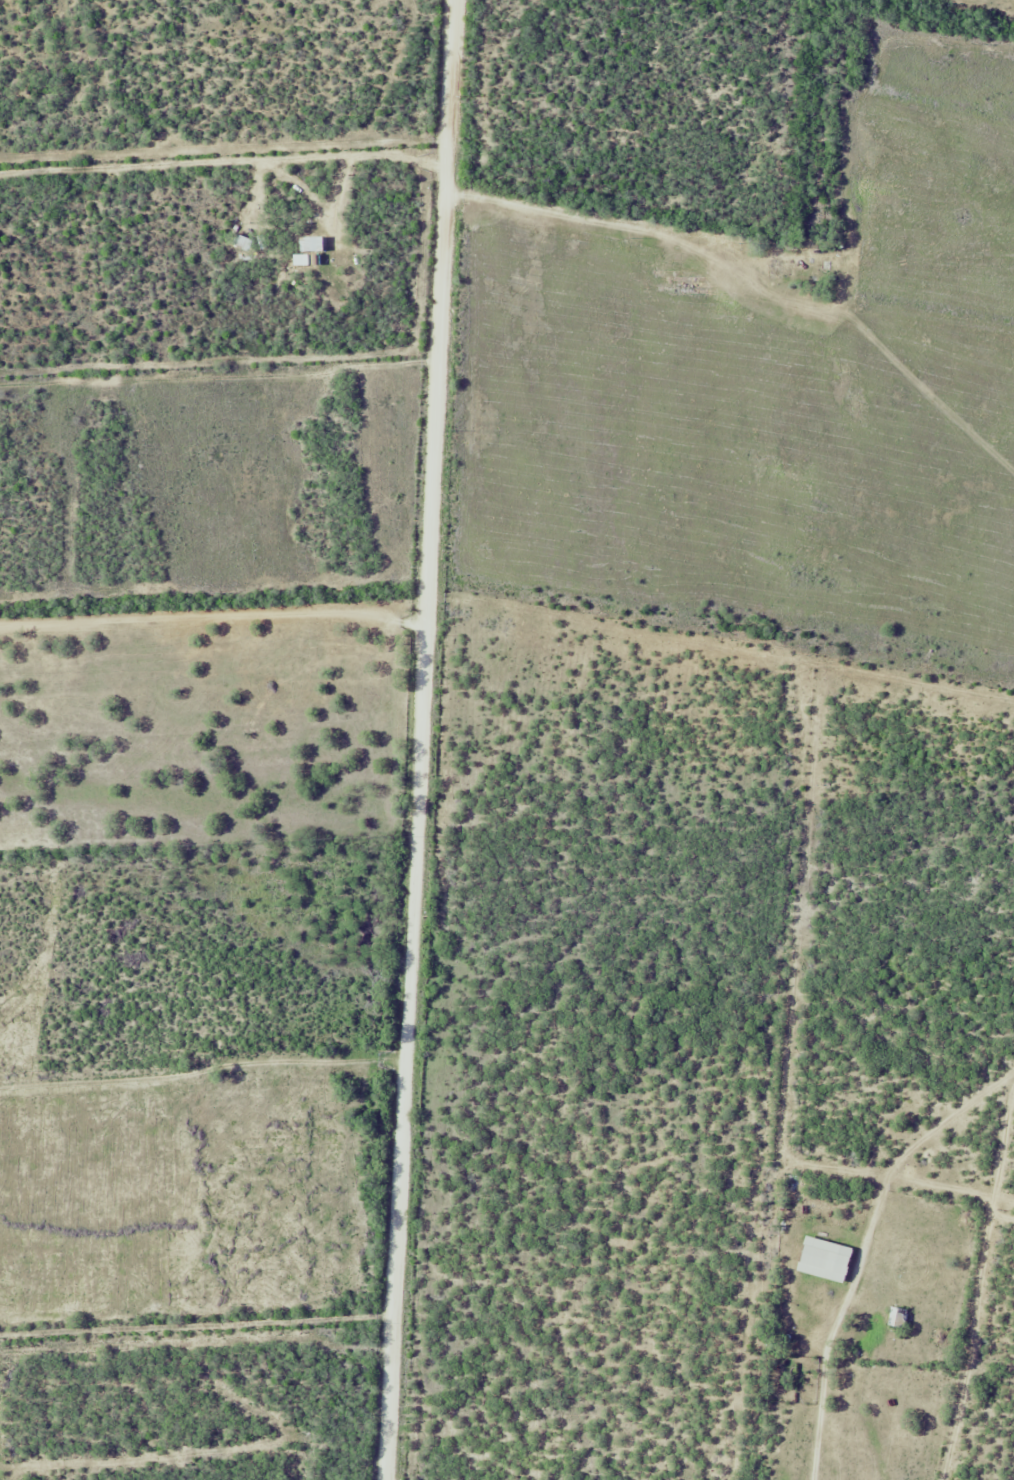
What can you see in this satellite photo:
road: (418, 740)
building: (829, 1258)

